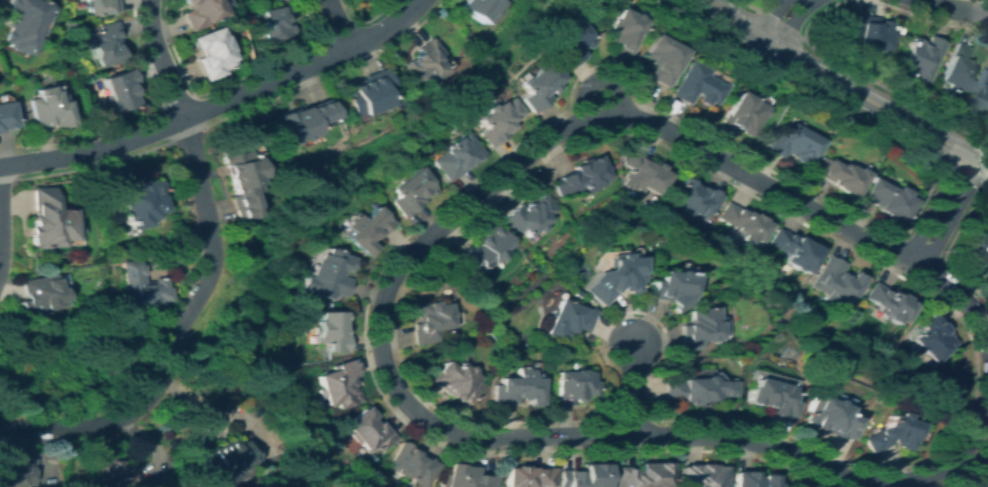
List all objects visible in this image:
building: (101, 7)
building: (478, 8)
road: (956, 9)
building: (199, 12)
building: (276, 23)
building: (22, 24)
road: (330, 25)
building: (69, 26)
road: (777, 29)
building: (621, 30)
building: (870, 31)
road: (768, 37)
building: (566, 42)
building: (106, 43)
building: (209, 53)
building: (920, 58)
road: (159, 59)
building: (659, 59)
building: (424, 64)
building: (958, 70)
road: (598, 81)
building: (695, 85)
building: (539, 86)
road: (845, 88)
building: (120, 89)
building: (366, 92)
building: (982, 97)
road: (216, 101)
building: (47, 108)
building: (741, 115)
building: (5, 116)
building: (301, 120)
building: (497, 120)
building: (791, 144)
building: (456, 156)
building: (643, 171)
building: (838, 175)
building: (580, 176)
building: (239, 183)
building: (410, 191)
building: (694, 198)
building: (887, 199)
building: (135, 200)
road: (941, 211)
building: (528, 216)
building: (47, 220)
building: (743, 222)
building: (365, 229)
road: (0, 242)
building: (486, 249)
building: (793, 250)
building: (977, 251)
building: (329, 275)
building: (613, 278)
building: (835, 282)
building: (138, 287)
building: (670, 288)
building: (39, 294)
road: (382, 297)
building: (888, 302)
building: (567, 319)
building: (429, 322)
building: (698, 328)
building: (331, 331)
road: (177, 332)
building: (932, 338)
building: (452, 382)
building: (338, 384)
building: (572, 386)
building: (515, 387)
road: (631, 388)
building: (697, 390)
building: (772, 397)
building: (826, 418)
building: (370, 432)
building: (890, 432)
building: (228, 458)
building: (413, 466)
building: (17, 469)
building: (111, 471)
building: (530, 475)
building: (643, 475)
building: (701, 476)
building: (466, 477)
building: (586, 477)
building: (754, 479)

